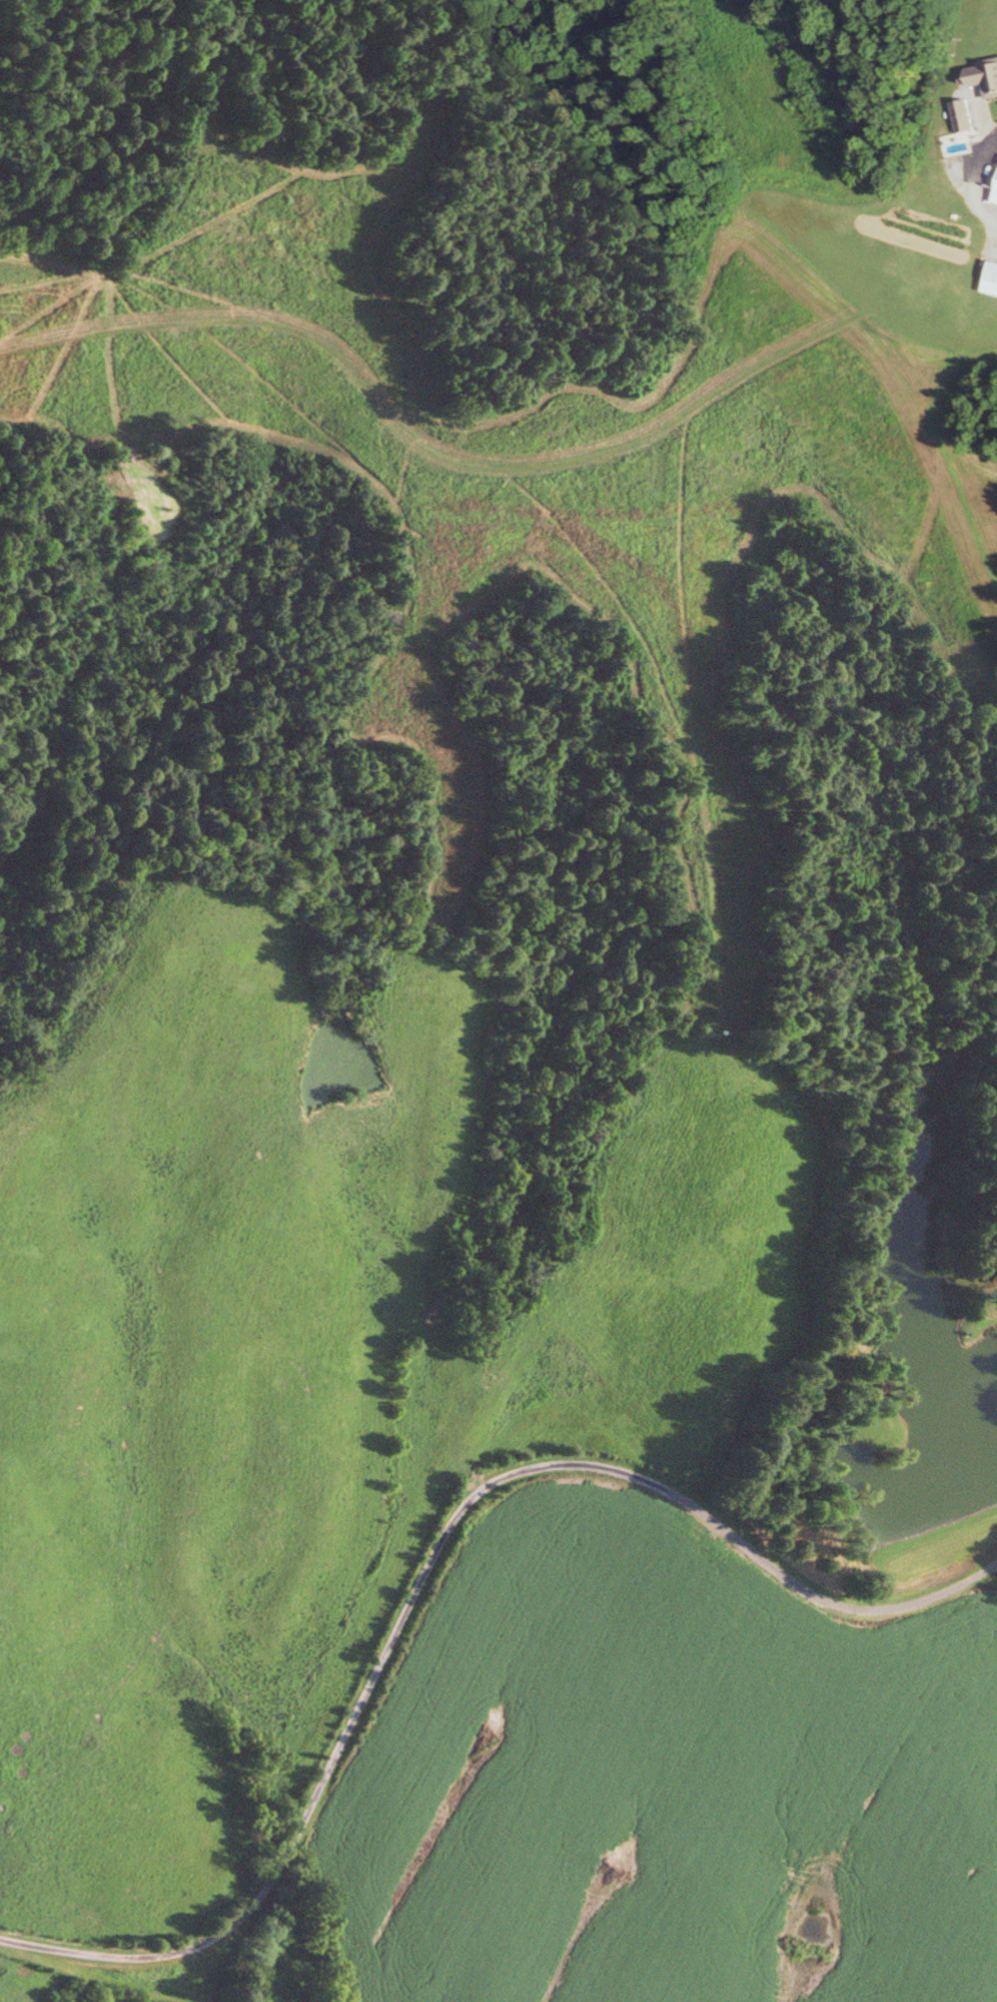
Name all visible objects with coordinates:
building: (984, 78)
building: (963, 117)
building: (995, 198)
building: (990, 281)
road: (433, 1562)

